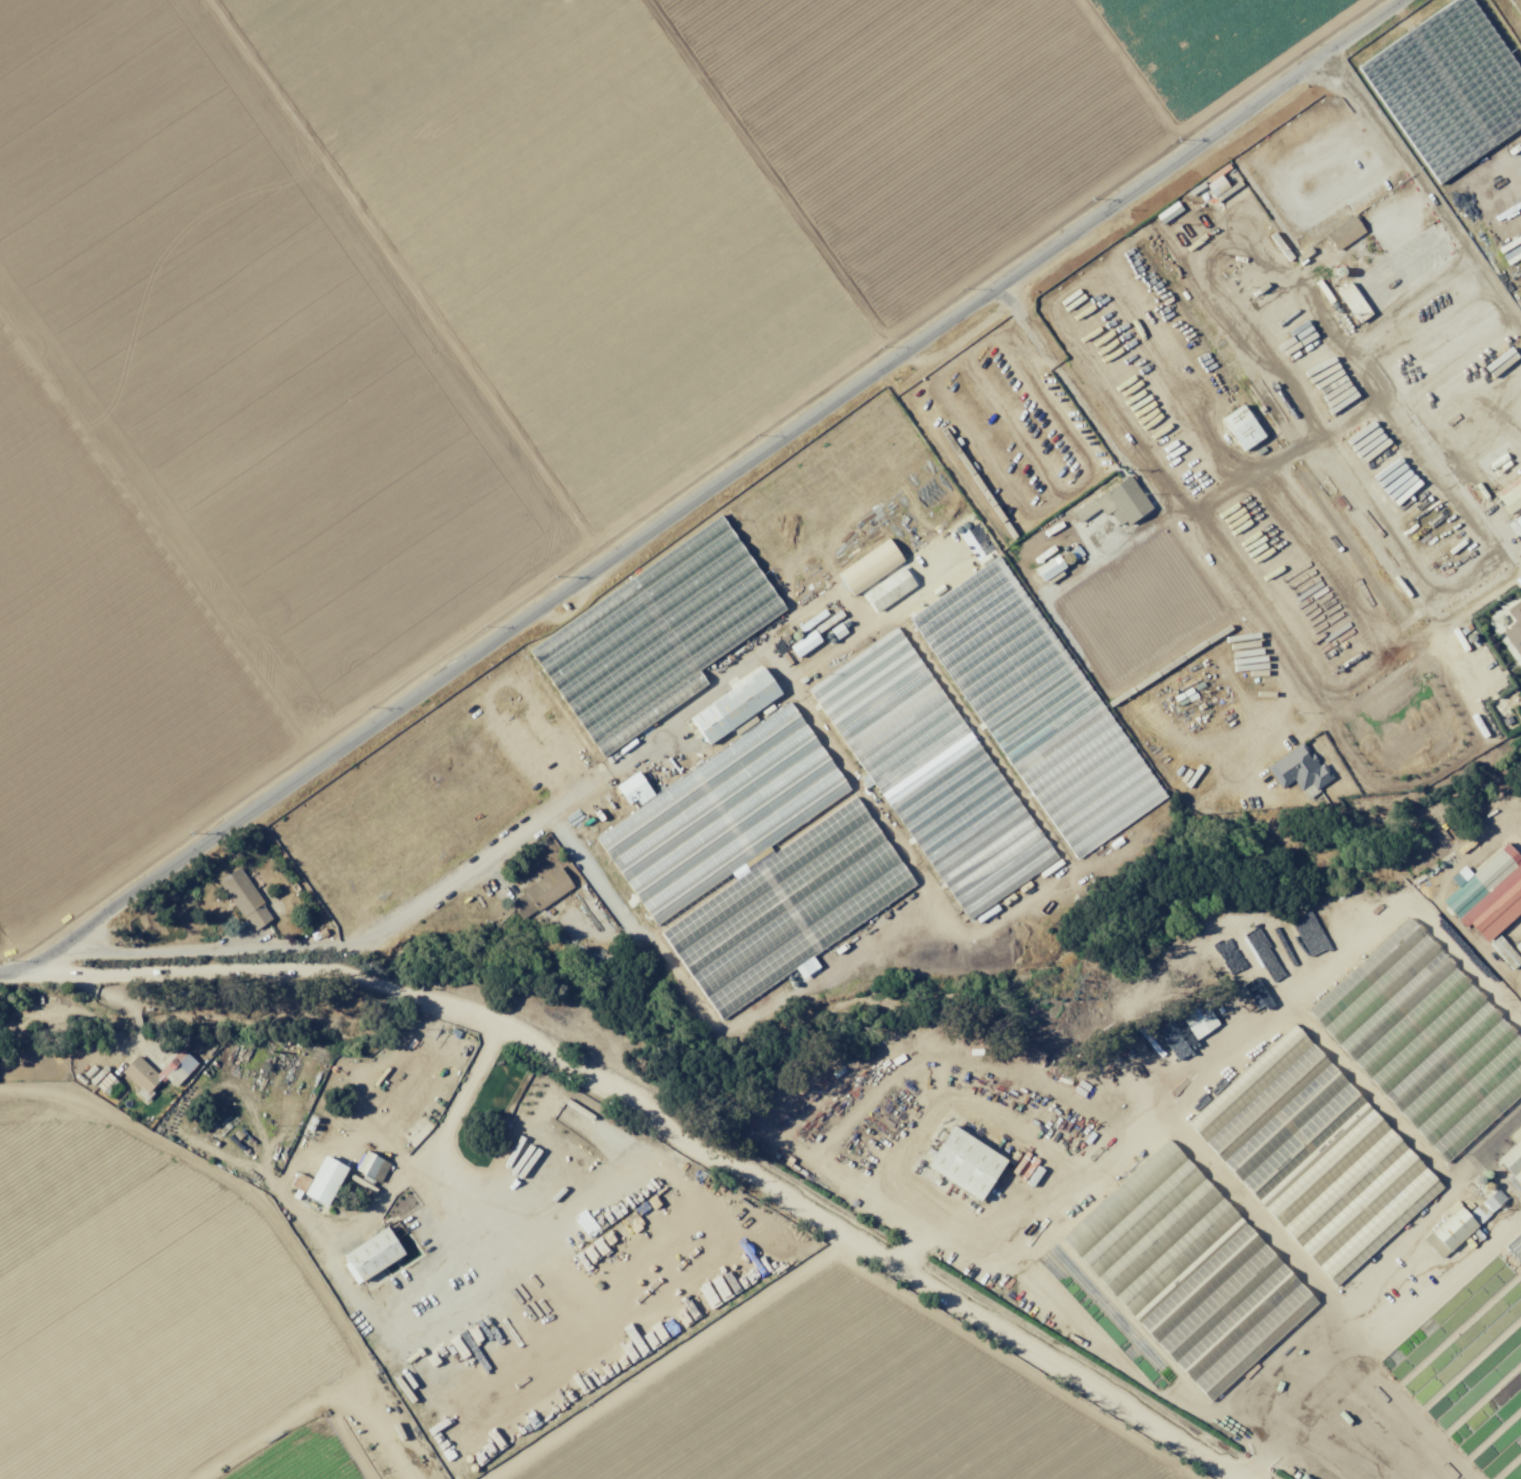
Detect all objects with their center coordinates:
building: (1449, 87)
building: (1346, 233)
building: (1354, 303)
crop: (462, 325)
building: (1134, 351)
building: (1007, 432)
building: (1209, 444)
building: (1169, 476)
road: (702, 494)
building: (1512, 497)
building: (1112, 509)
building: (855, 511)
building: (1045, 543)
building: (1286, 572)
building: (1128, 599)
building: (1515, 629)
building: (819, 631)
building: (655, 637)
building: (1033, 703)
building: (735, 706)
building: (1210, 711)
building: (468, 767)
building: (1300, 770)
building: (931, 773)
building: (305, 847)
building: (755, 867)
building: (1484, 878)
building: (541, 894)
building: (246, 900)
crop: (1503, 926)
building: (1424, 1039)
building: (1169, 1060)
building: (173, 1073)
building: (141, 1075)
building: (1314, 1155)
building: (1513, 1156)
building: (967, 1163)
building: (373, 1167)
road: (658, 1175)
building: (321, 1182)
building: (1450, 1232)
building: (374, 1254)
building: (1189, 1271)
crop: (167, 1285)
road: (509, 1315)
road: (323, 1436)
building: (1511, 1471)
building: (439, 1475)

